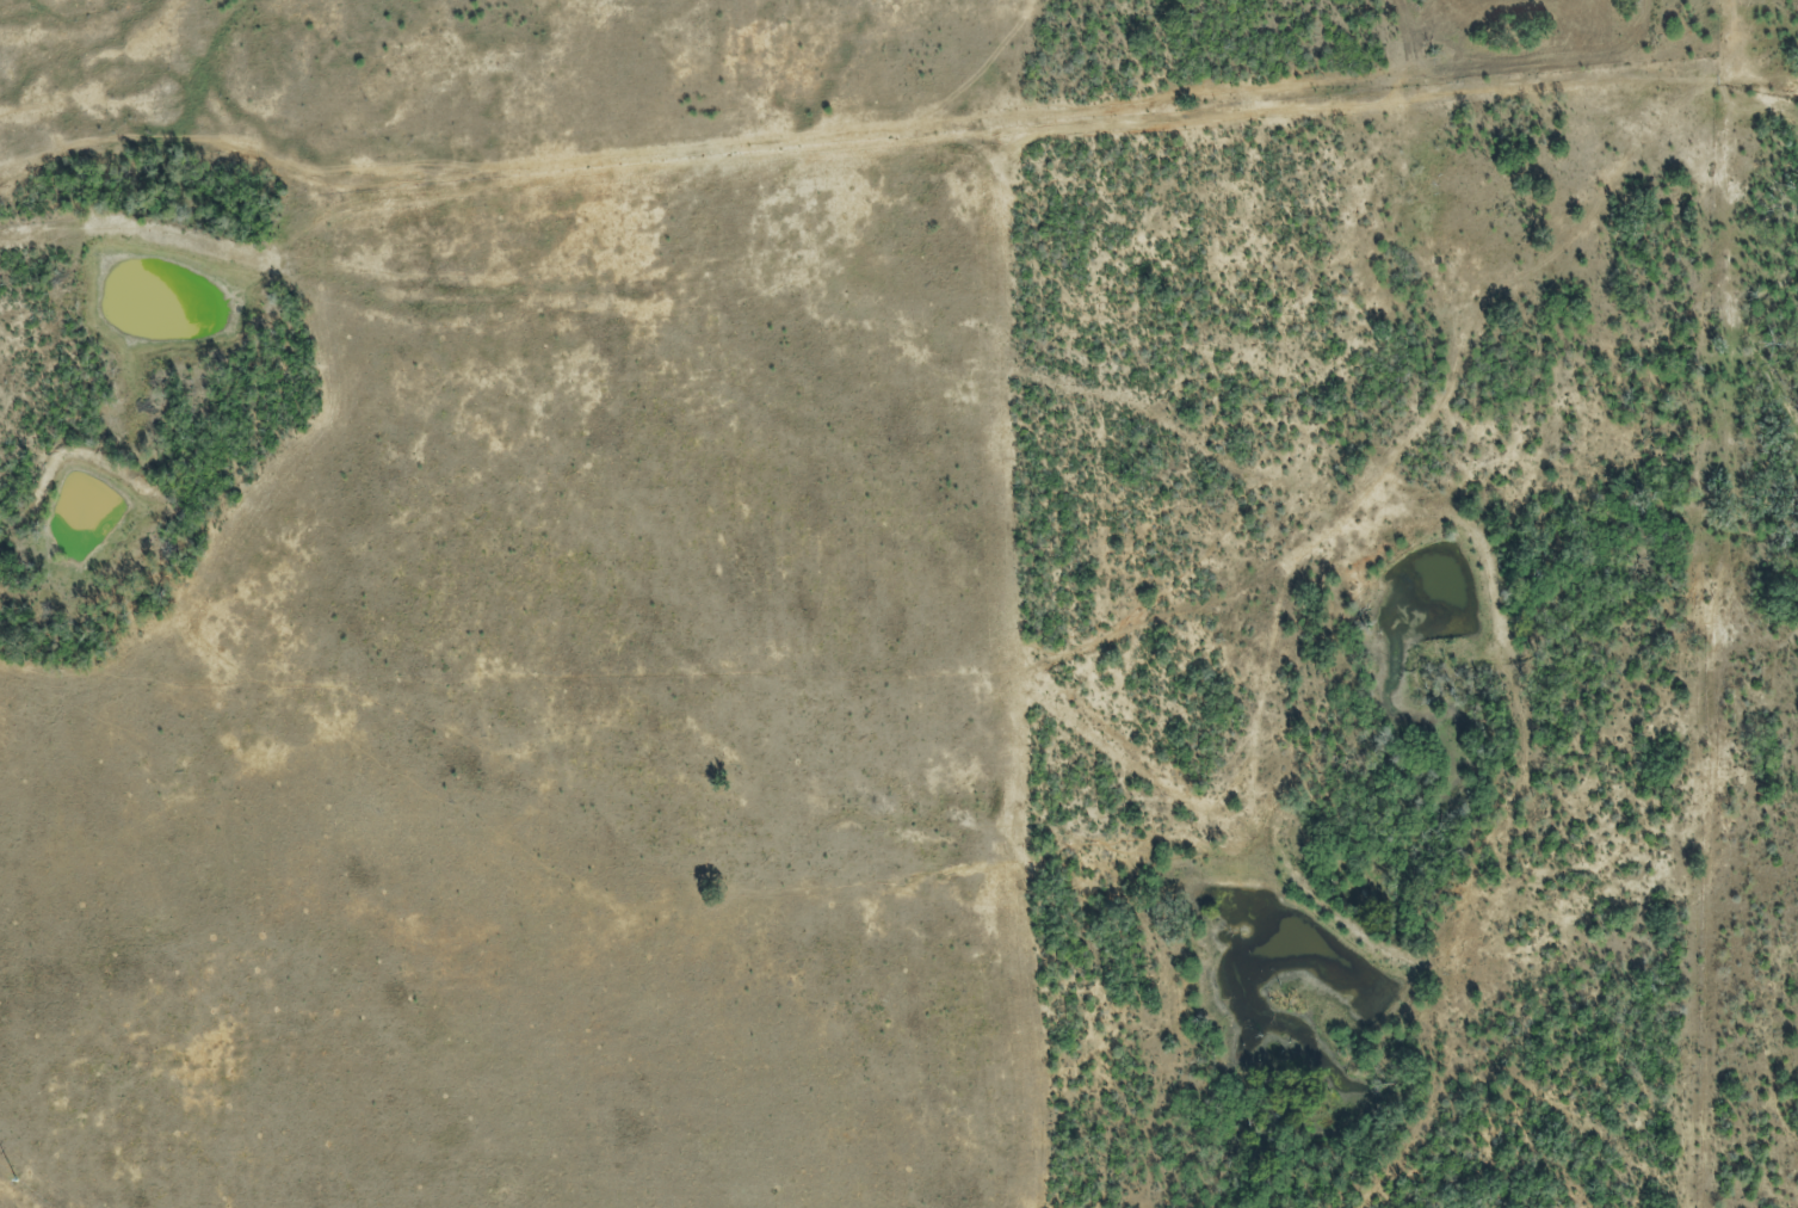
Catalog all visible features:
power tower: (11, 1177)

